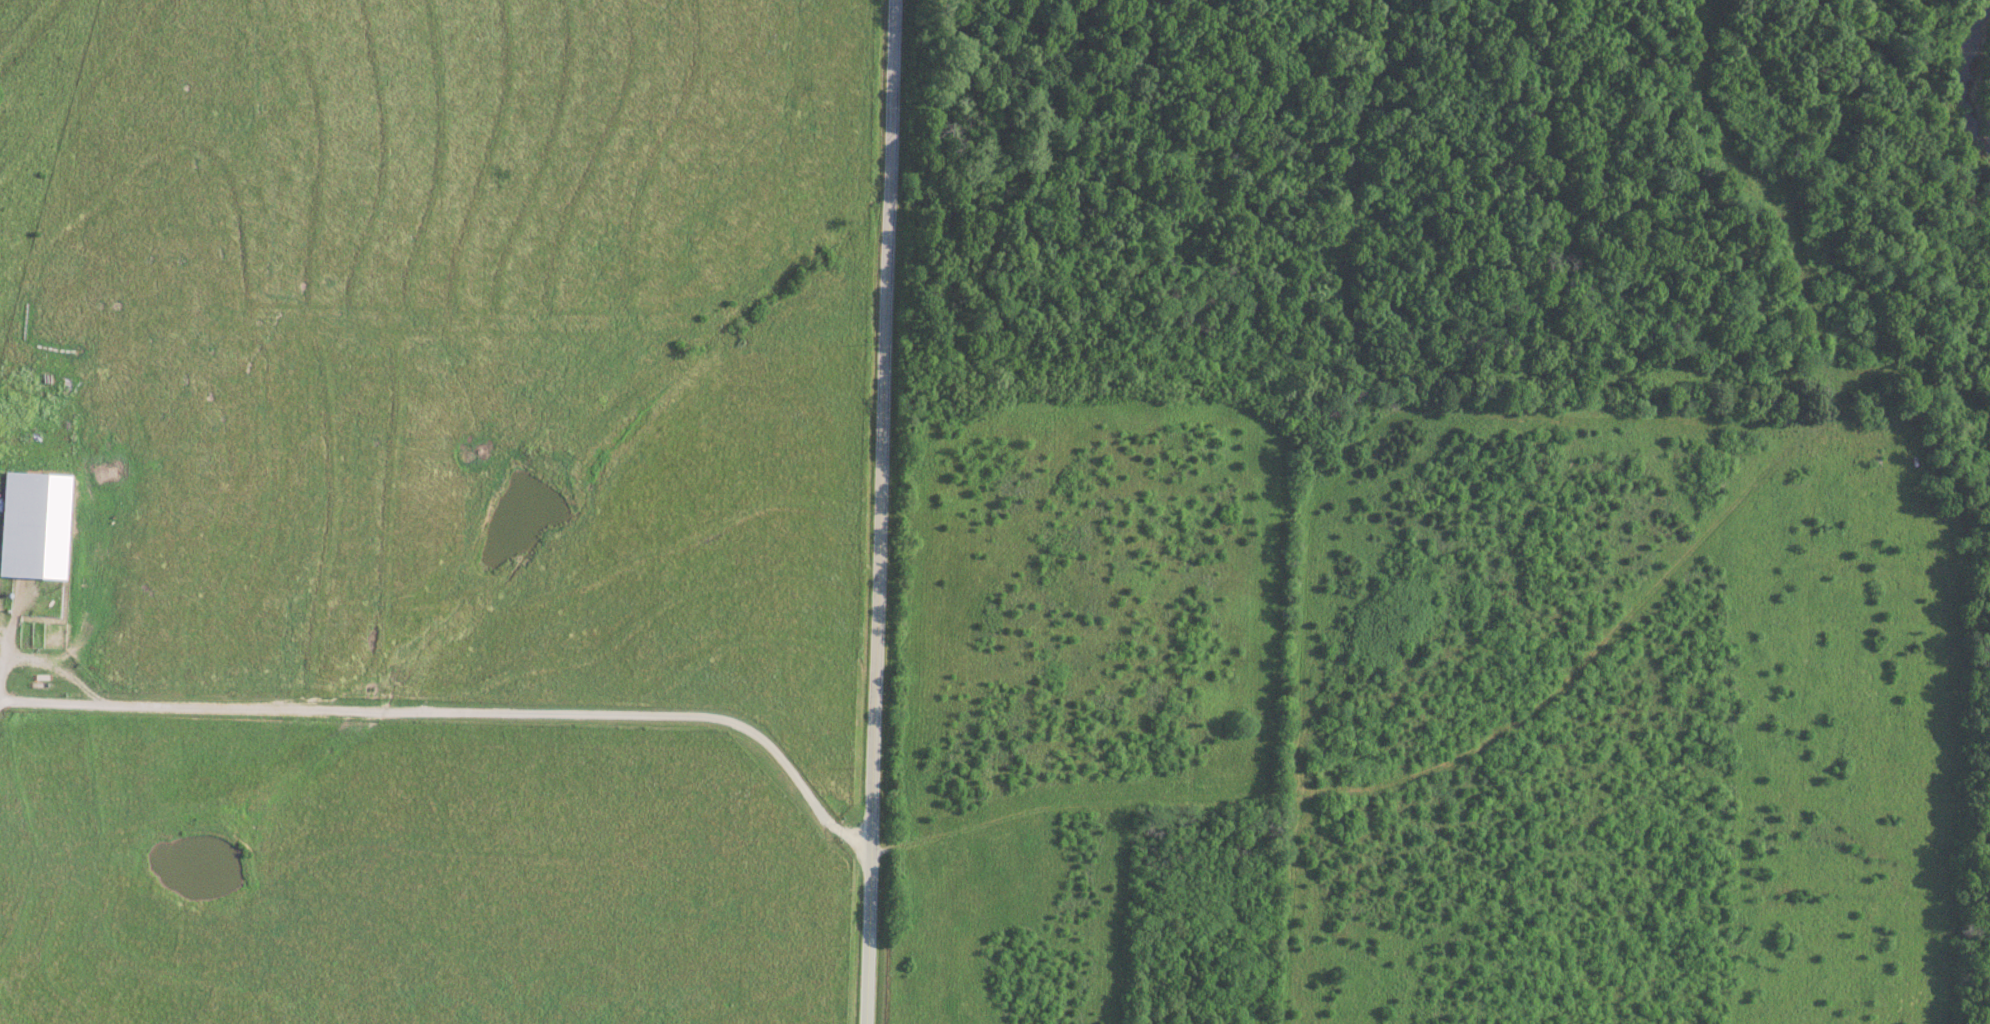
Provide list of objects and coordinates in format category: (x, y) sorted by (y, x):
road: (879, 512)
building: (35, 524)
road: (13, 633)
road: (1, 695)
road: (1, 705)
road: (463, 714)

